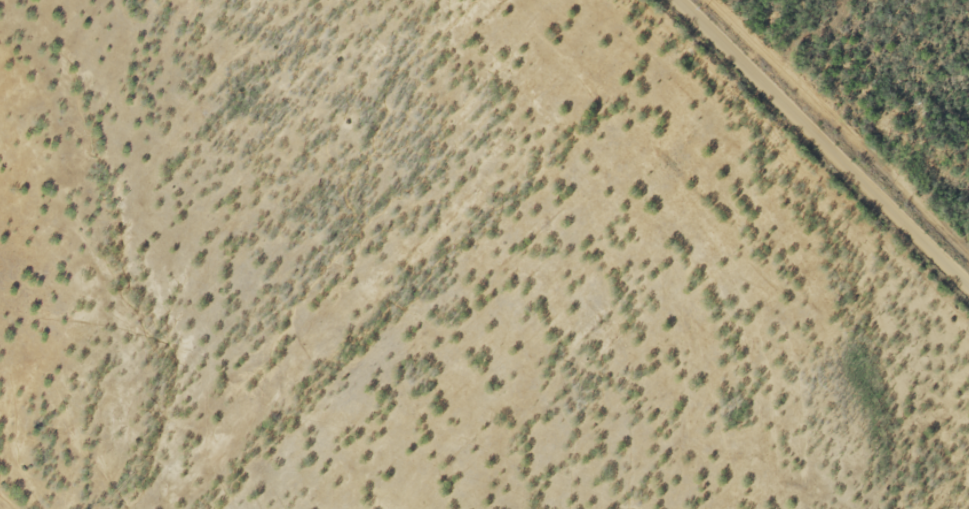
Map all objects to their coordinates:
road: (833, 131)

